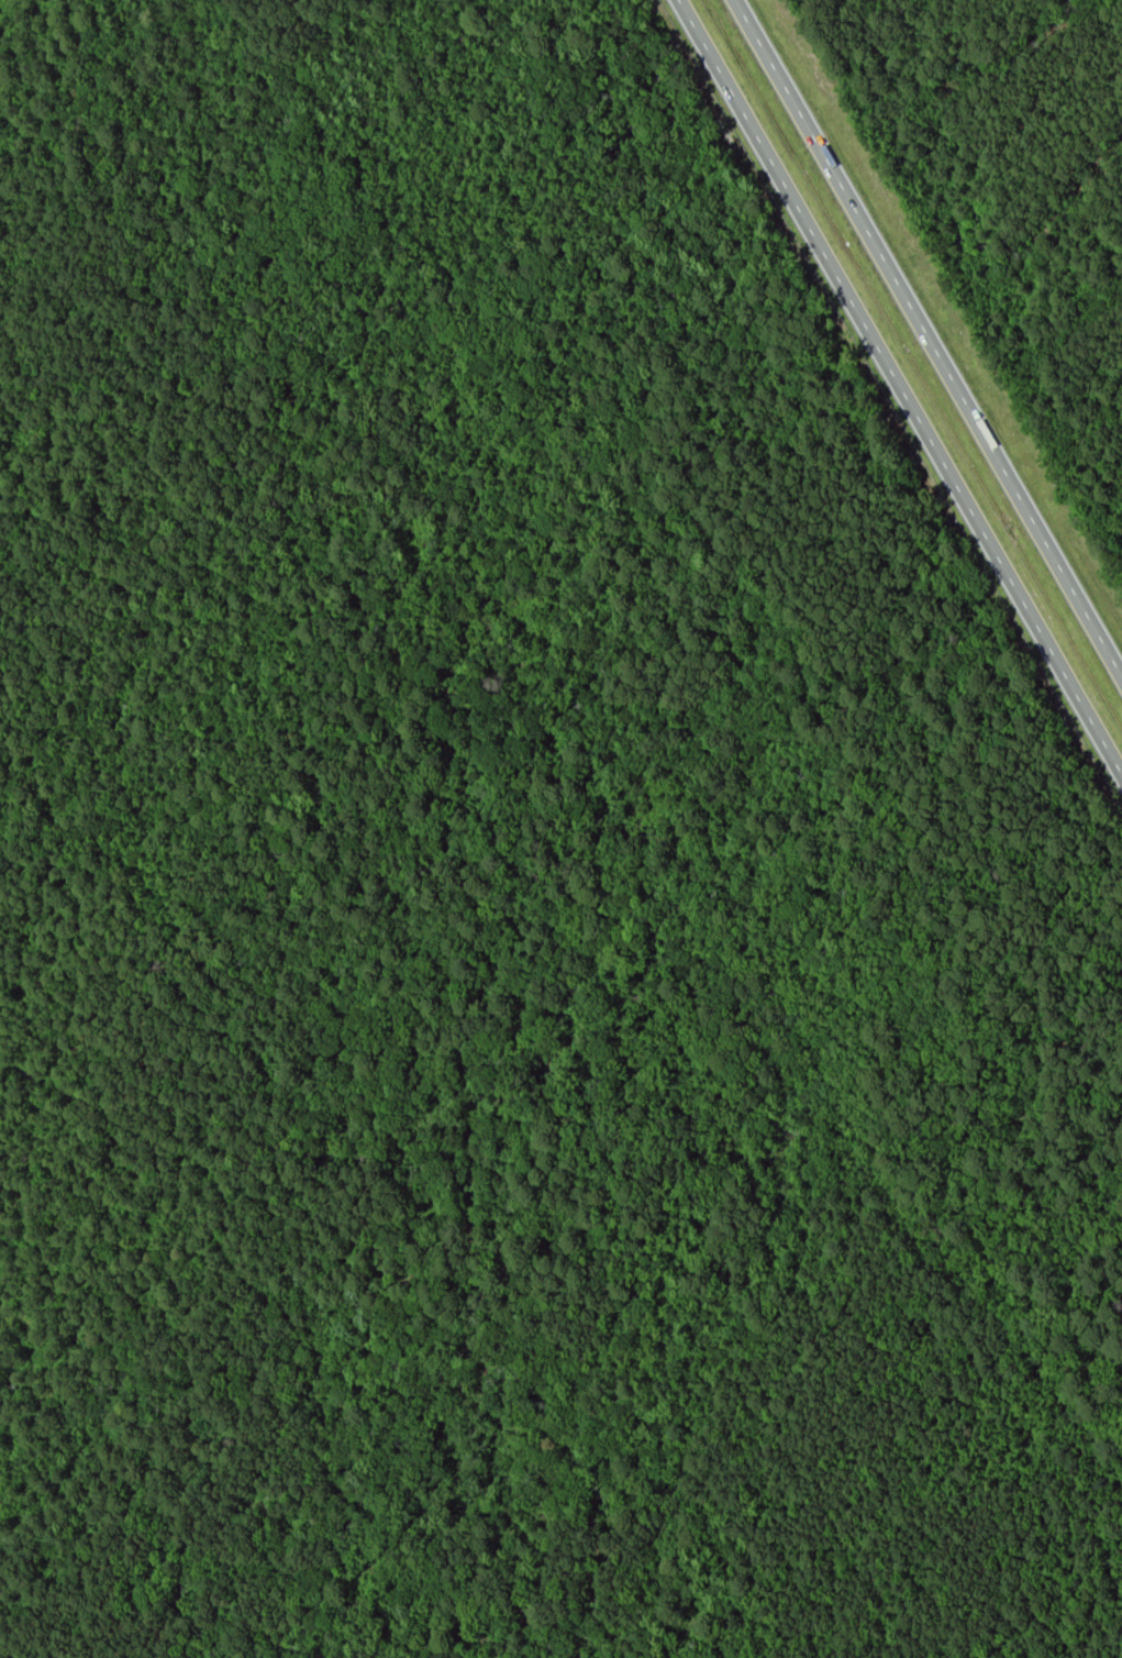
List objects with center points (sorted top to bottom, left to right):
road: (927, 340)
road: (900, 388)

